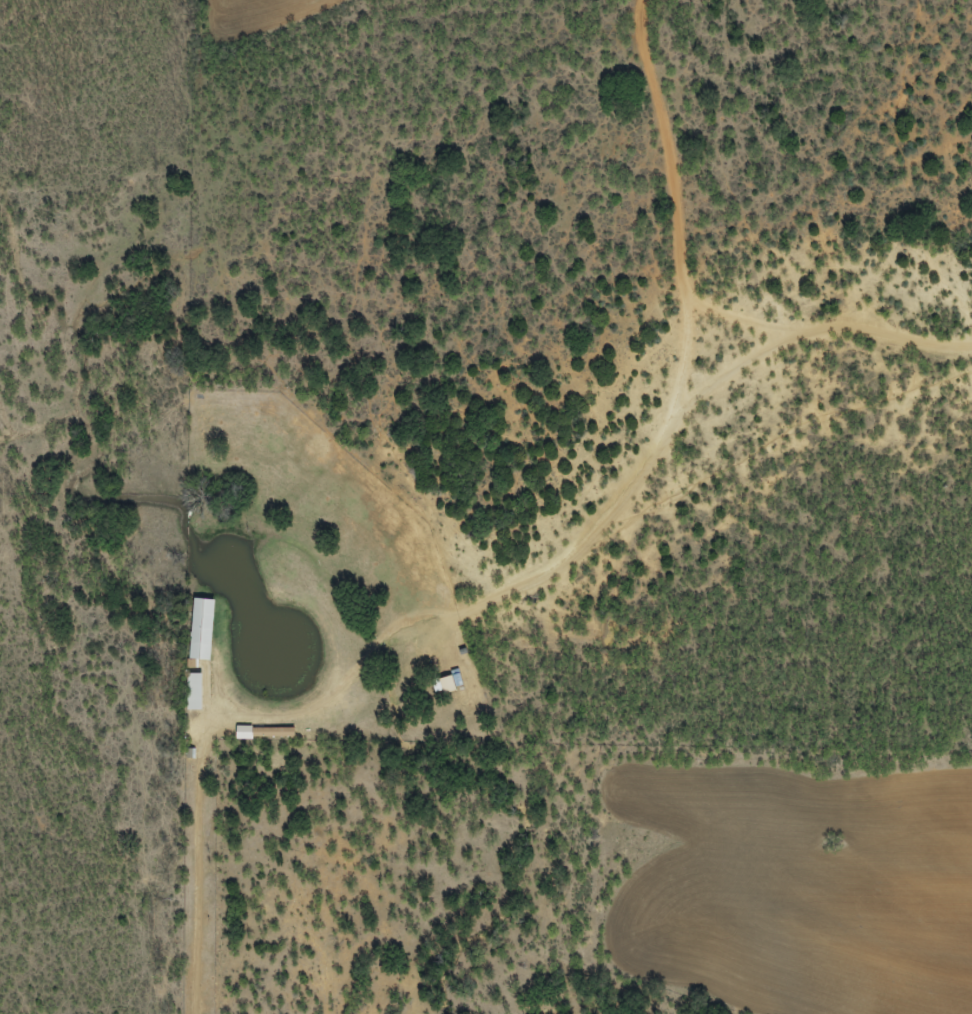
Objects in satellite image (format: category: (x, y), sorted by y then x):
building: (201, 629)
building: (194, 692)

